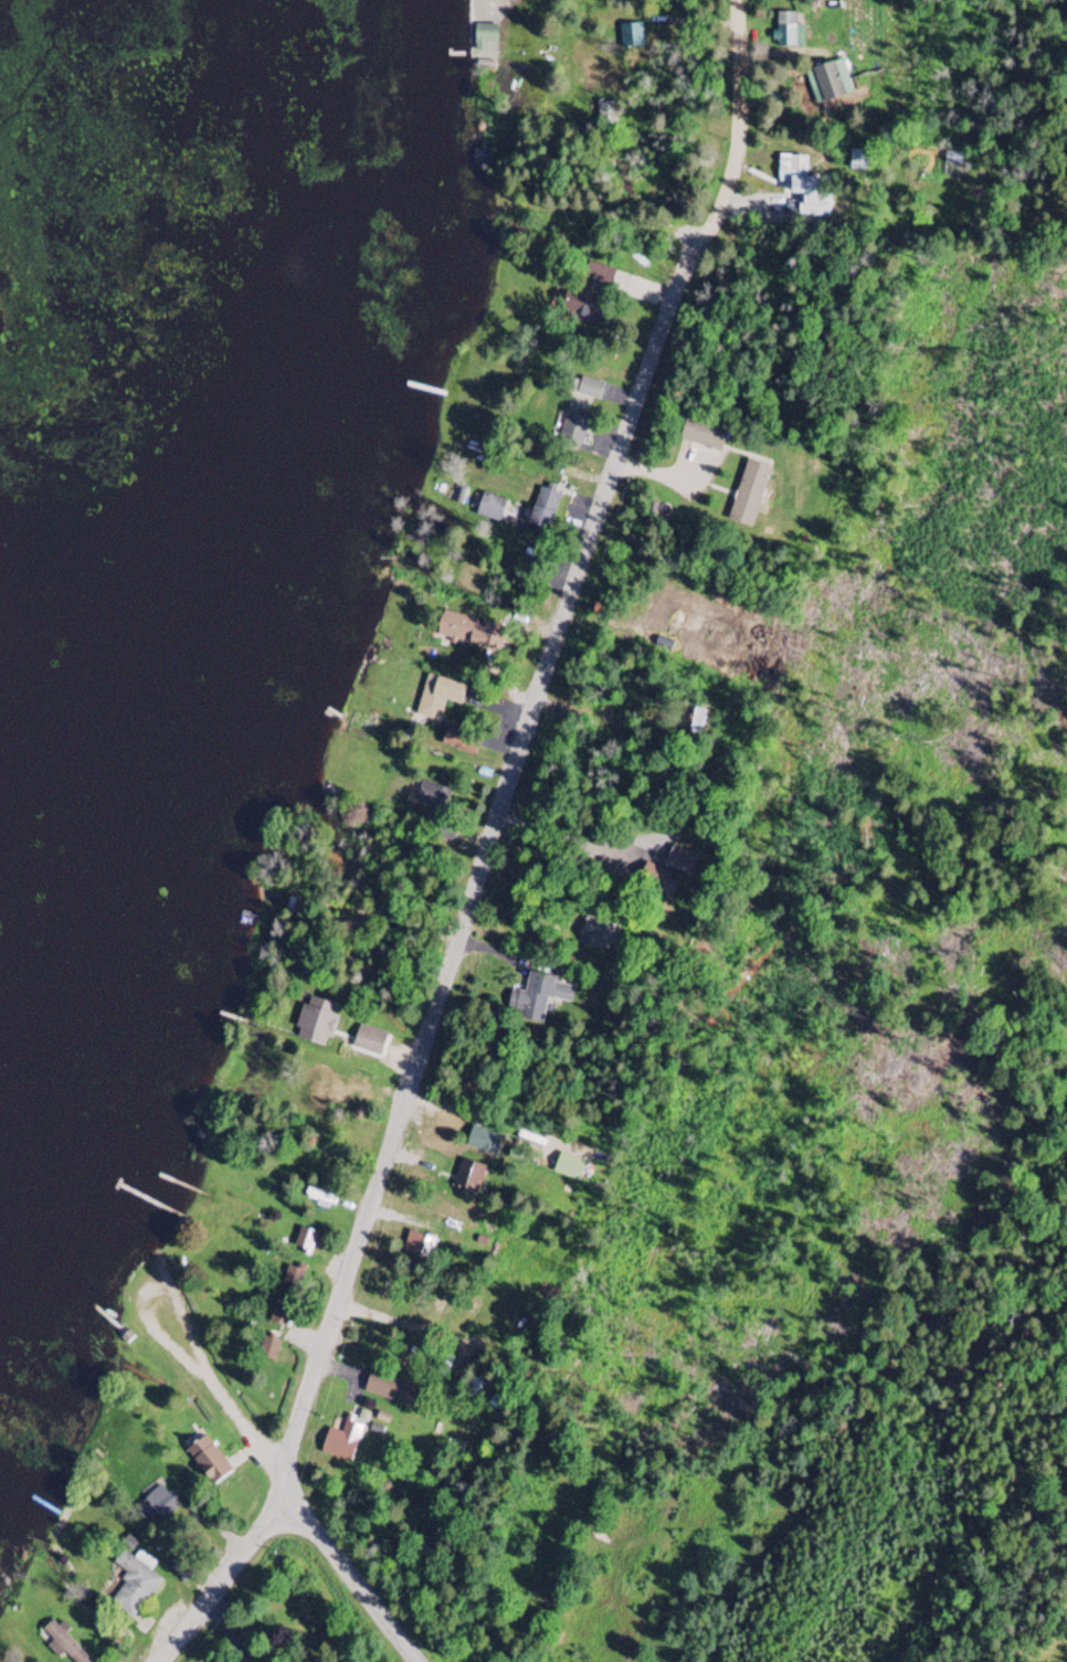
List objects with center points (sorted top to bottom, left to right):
building: (484, 0)
building: (785, 32)
building: (484, 38)
building: (633, 39)
building: (831, 82)
road: (739, 136)
building: (797, 168)
road: (642, 221)
road: (644, 287)
building: (587, 294)
building: (579, 414)
building: (702, 434)
road: (655, 472)
building: (749, 495)
building: (545, 506)
building: (489, 508)
building: (461, 629)
building: (439, 698)
road: (602, 718)
building: (457, 738)
building: (432, 796)
building: (680, 861)
road: (479, 876)
building: (540, 997)
building: (319, 1021)
building: (369, 1046)
building: (325, 1093)
building: (490, 1144)
building: (469, 1178)
building: (320, 1199)
building: (304, 1242)
building: (419, 1247)
road: (150, 1289)
building: (267, 1351)
building: (392, 1391)
building: (344, 1442)
building: (209, 1461)
building: (158, 1505)
road: (309, 1521)
road: (223, 1577)
building: (134, 1586)
building: (63, 1643)

